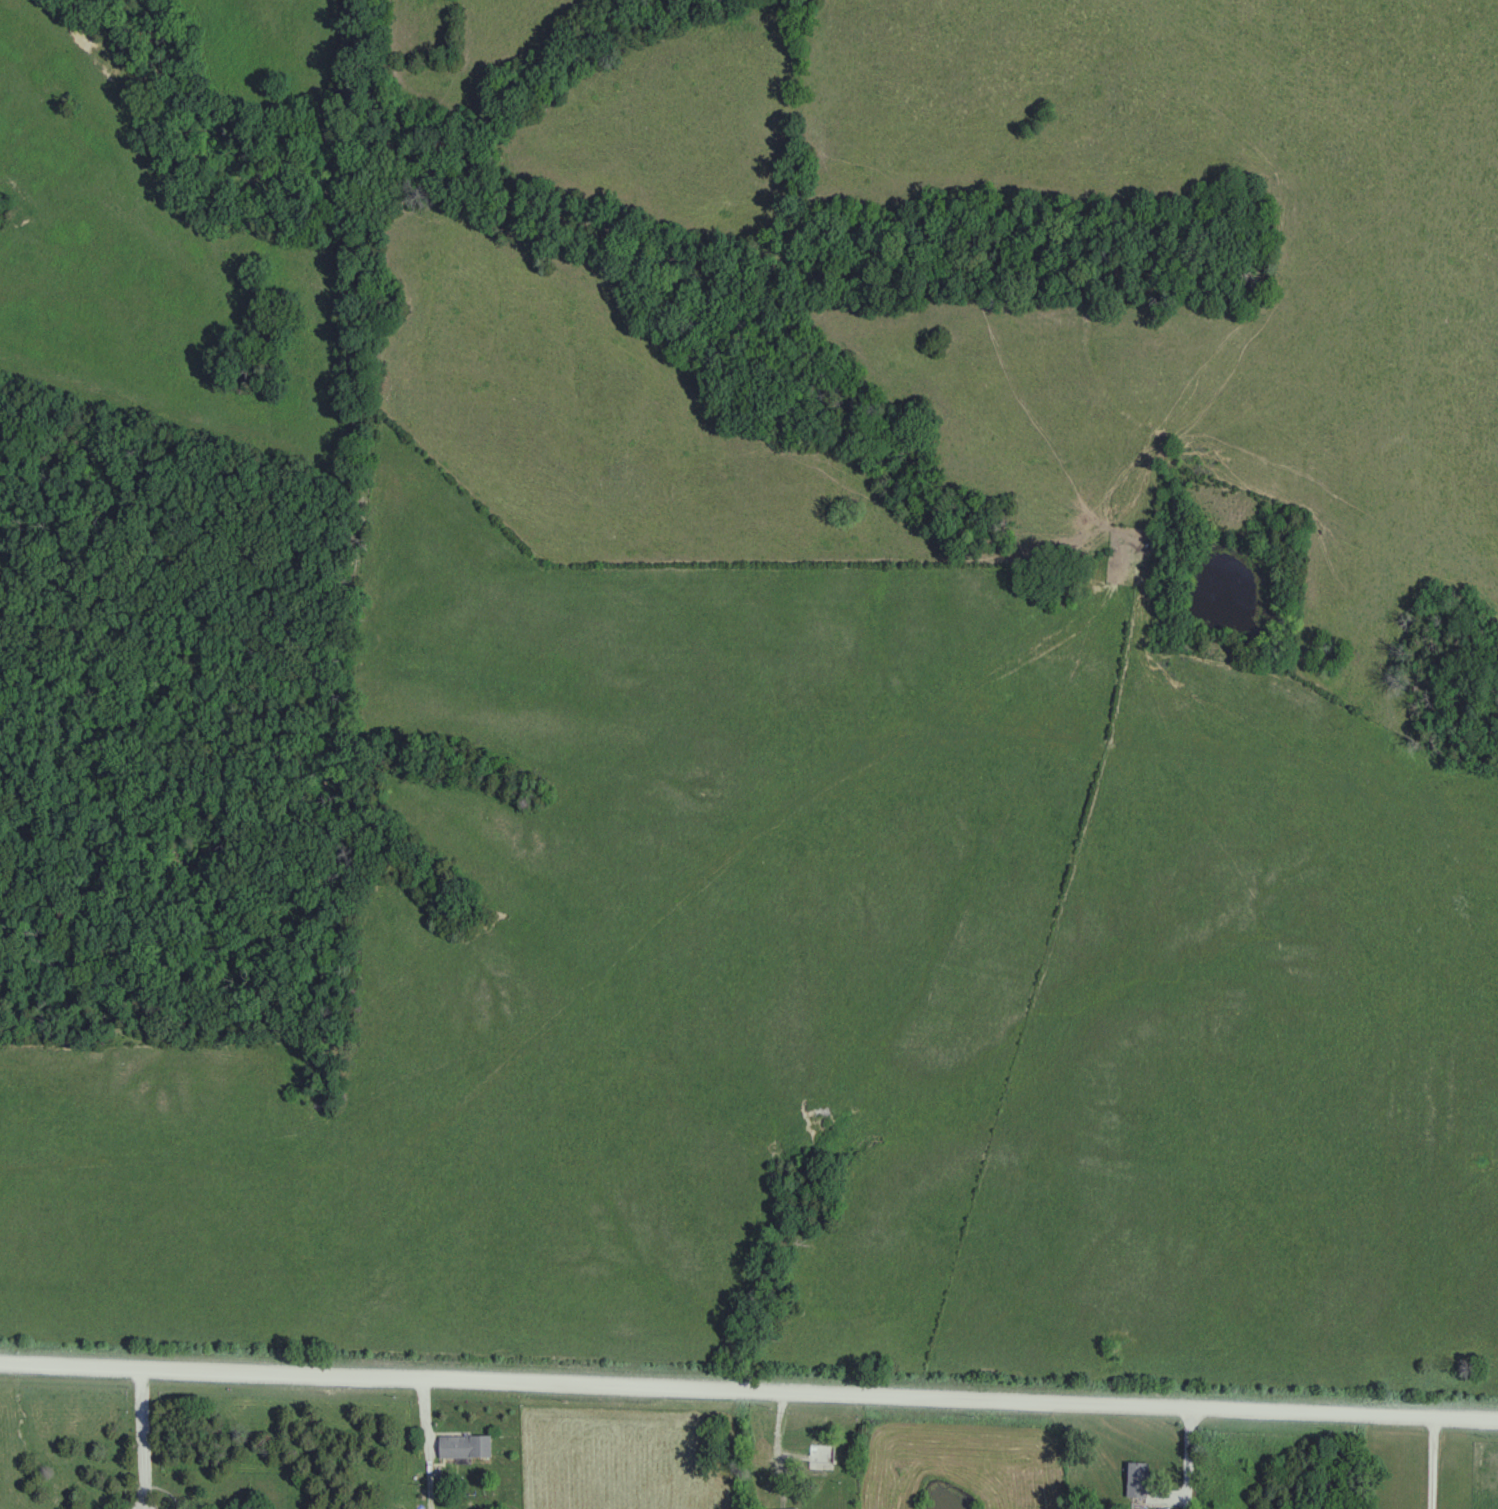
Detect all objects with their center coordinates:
road: (748, 1393)
road: (147, 1439)
road: (437, 1444)
building: (467, 1446)
road: (783, 1449)
building: (823, 1453)
road: (1180, 1459)
road: (1428, 1464)
building: (1139, 1479)

